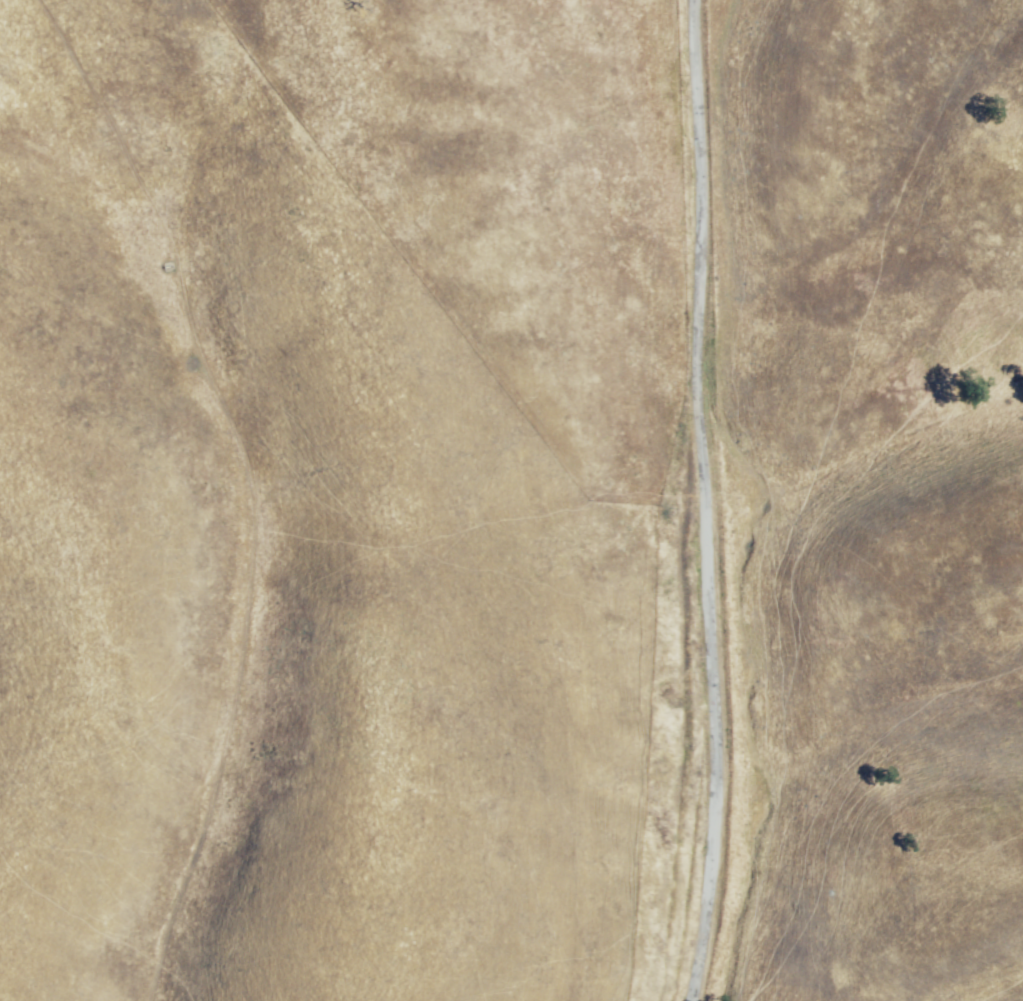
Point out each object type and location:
road: (696, 501)

